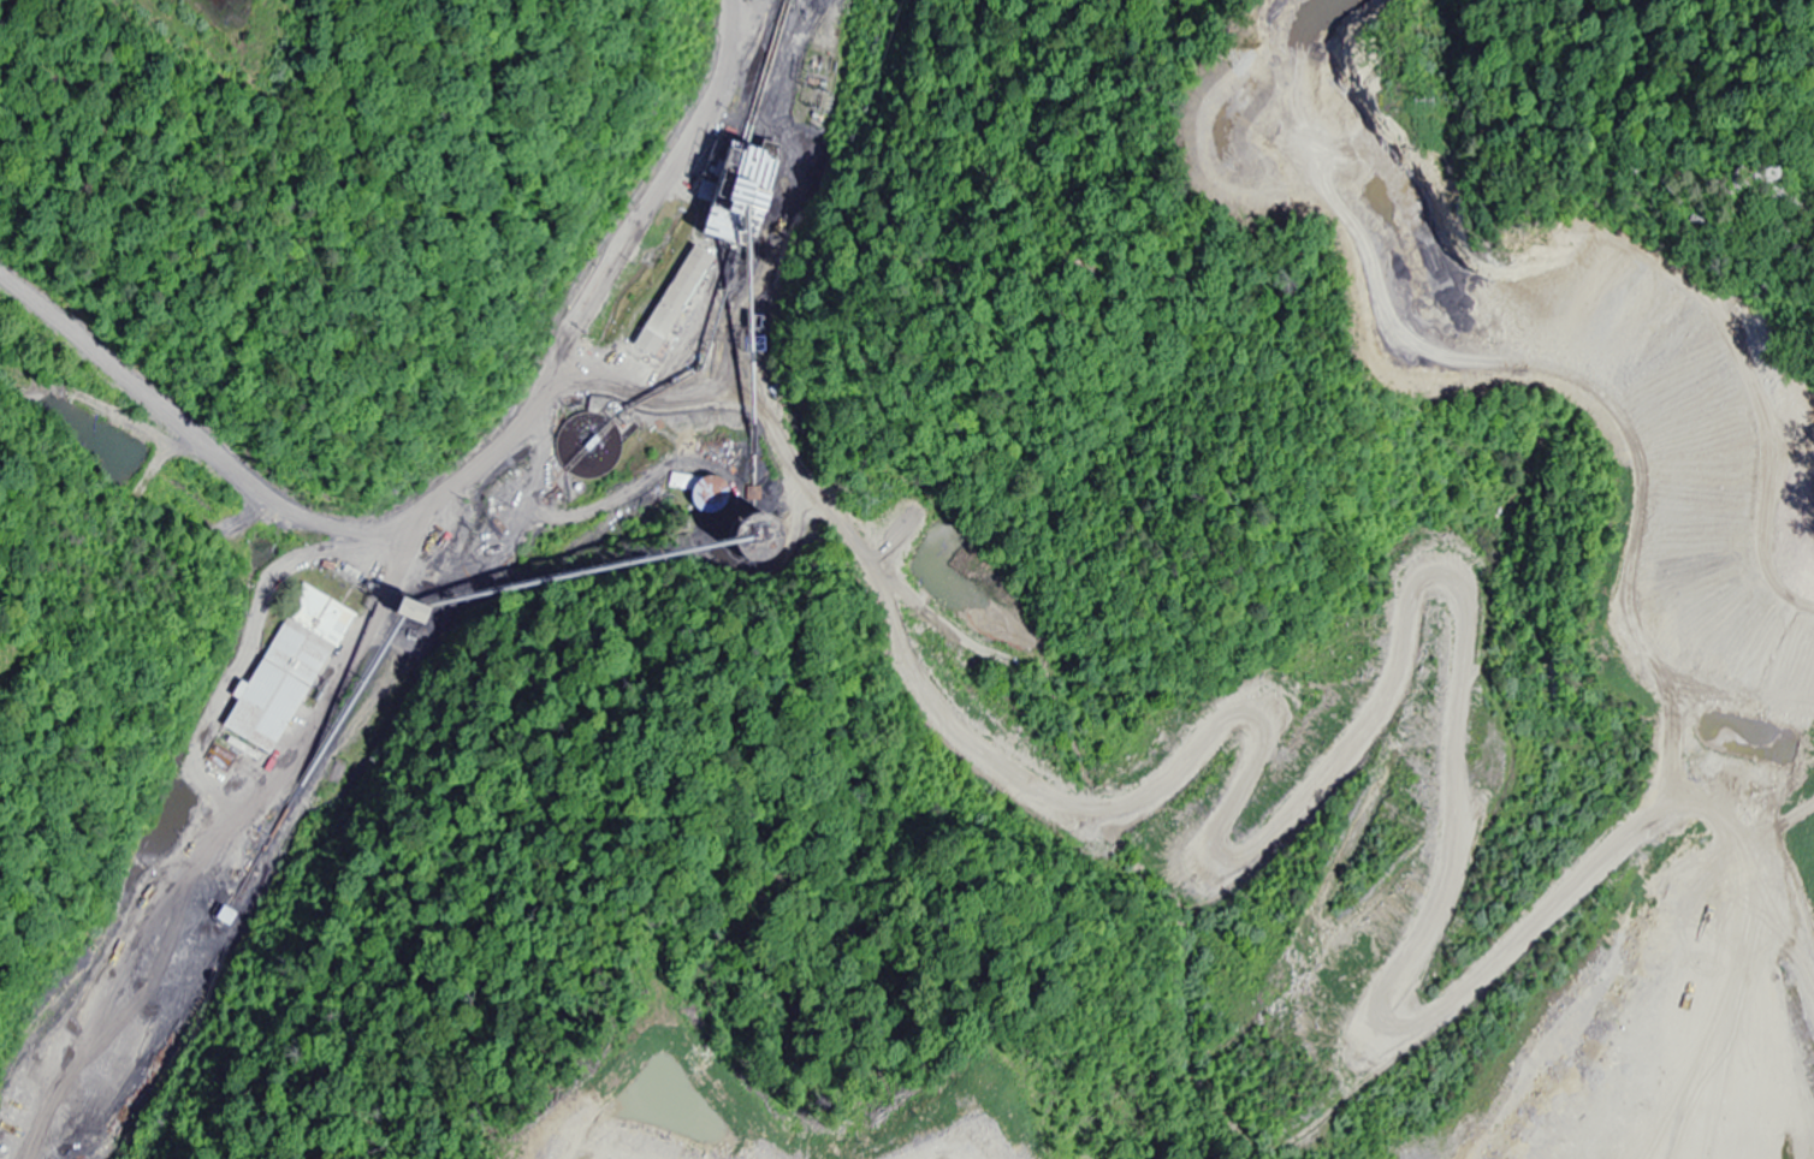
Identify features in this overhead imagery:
road: (663, 364)
quarry: (488, 516)
building: (438, 531)
building: (292, 671)
building: (1714, 791)
building: (8, 1149)

